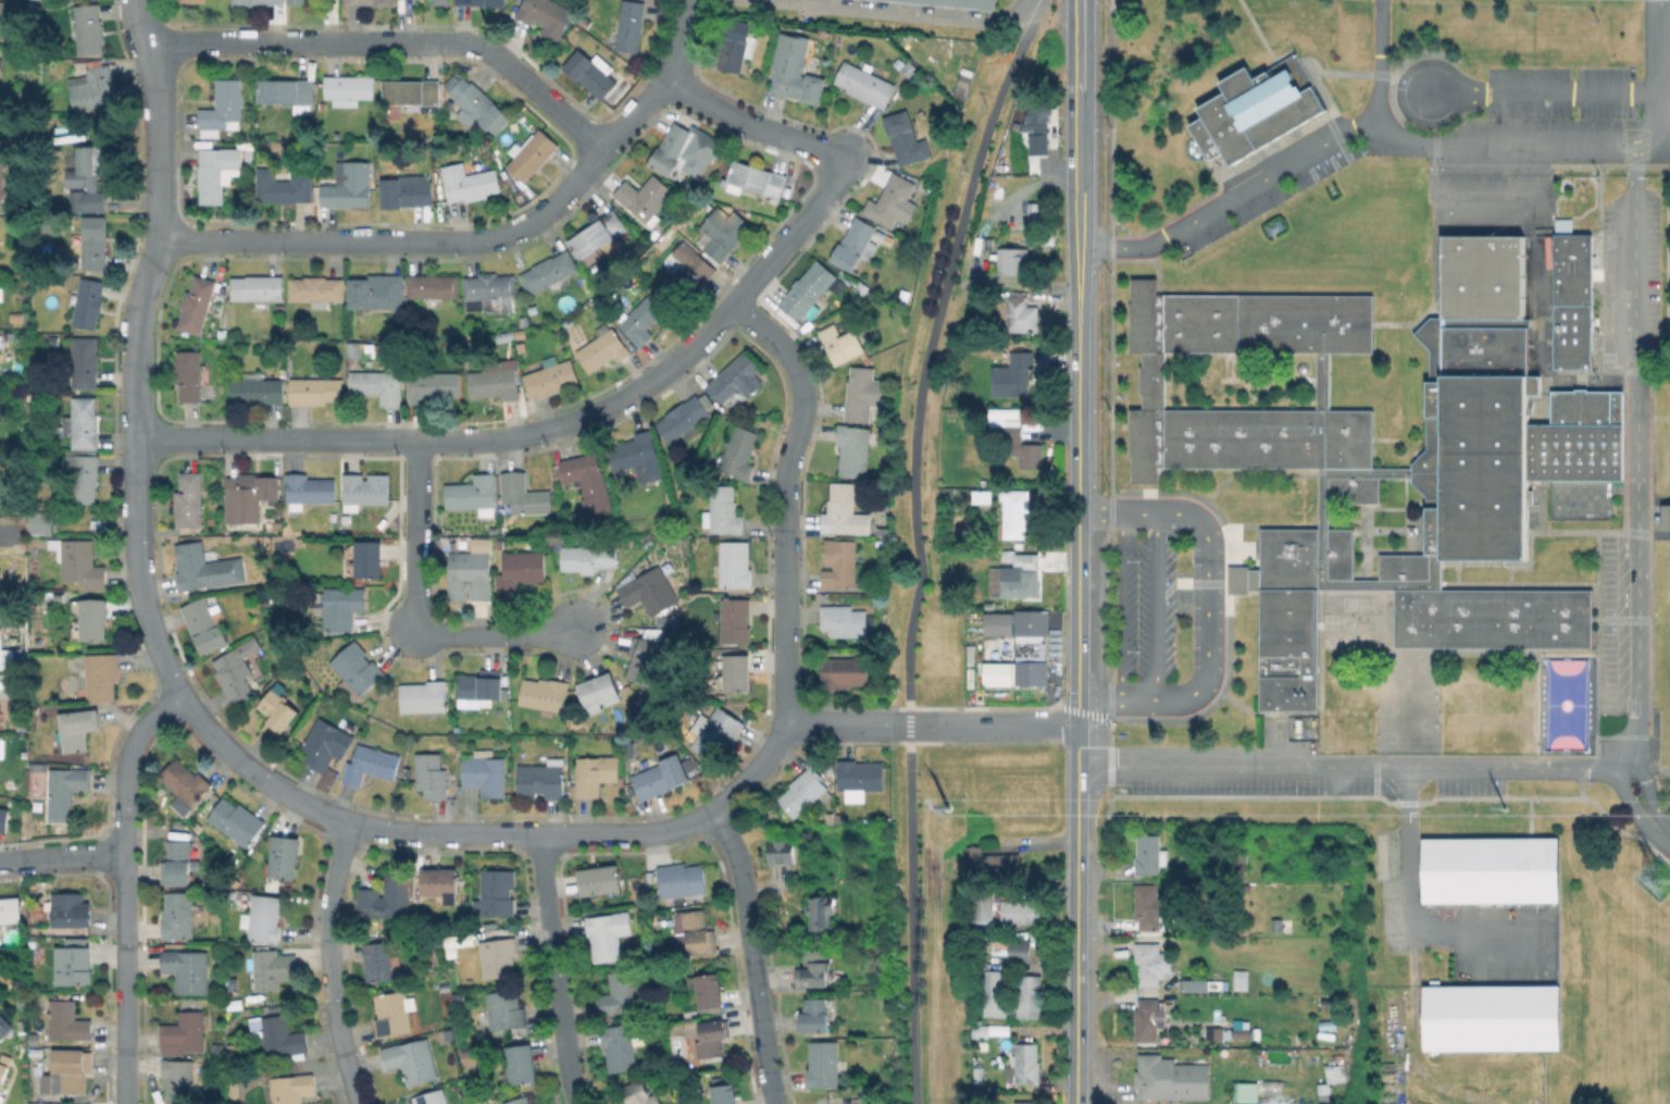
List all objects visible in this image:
building: (297, 0)
building: (192, 1)
building: (259, 2)
building: (369, 2)
building: (443, 2)
building: (482, 2)
building: (959, 3)
building: (546, 13)
road: (876, 13)
building: (2, 18)
building: (631, 25)
building: (89, 28)
road: (398, 44)
building: (736, 45)
building: (911, 67)
building: (794, 69)
building: (590, 74)
building: (962, 84)
building: (864, 85)
building: (350, 87)
road: (1549, 90)
building: (411, 91)
building: (97, 92)
building: (288, 92)
building: (476, 104)
building: (223, 108)
building: (1254, 109)
building: (1035, 116)
road: (749, 125)
building: (906, 139)
road: (1516, 142)
building: (686, 150)
building: (532, 154)
road: (1280, 169)
building: (216, 173)
building: (88, 174)
building: (758, 178)
building: (472, 182)
building: (286, 184)
building: (349, 185)
building: (2, 187)
building: (407, 191)
building: (646, 198)
building: (890, 200)
building: (723, 232)
building: (598, 235)
road: (486, 239)
building: (95, 243)
building: (853, 243)
building: (1013, 261)
building: (549, 272)
building: (687, 272)
building: (907, 280)
building: (258, 287)
building: (434, 288)
building: (806, 288)
building: (862, 288)
building: (317, 290)
building: (490, 290)
building: (378, 291)
building: (1, 294)
building: (1570, 296)
building: (89, 302)
building: (197, 305)
building: (1021, 314)
building: (643, 318)
building: (16, 320)
building: (525, 325)
building: (844, 344)
road: (137, 345)
road: (932, 345)
building: (603, 348)
building: (354, 349)
building: (85, 361)
building: (189, 374)
building: (1018, 375)
building: (551, 377)
building: (736, 377)
road: (1632, 379)
building: (378, 384)
building: (432, 384)
building: (495, 384)
building: (258, 388)
building: (315, 390)
building: (863, 394)
building: (687, 418)
building: (85, 423)
road: (548, 429)
building: (1022, 446)
road: (1079, 446)
building: (853, 449)
building: (739, 452)
building: (638, 455)
building: (1468, 471)
building: (83, 473)
building: (590, 485)
building: (308, 489)
building: (365, 489)
building: (474, 495)
building: (524, 495)
building: (982, 495)
building: (189, 499)
road: (784, 499)
building: (248, 500)
building: (723, 510)
building: (844, 510)
building: (1014, 511)
building: (1665, 517)
building: (38, 522)
building: (99, 523)
road: (10, 533)
road: (415, 535)
building: (300, 544)
building: (630, 546)
building: (589, 557)
building: (369, 558)
building: (78, 561)
building: (839, 563)
building: (734, 565)
building: (204, 568)
building: (472, 571)
building: (521, 571)
building: (267, 579)
building: (1019, 581)
building: (649, 591)
road: (1120, 603)
road: (1155, 603)
road: (1206, 604)
building: (339, 606)
building: (94, 619)
building: (734, 619)
building: (845, 620)
building: (661, 621)
building: (205, 623)
building: (1002, 625)
building: (1035, 625)
road: (495, 635)
building: (5, 654)
building: (643, 659)
building: (238, 669)
building: (357, 669)
building: (736, 671)
building: (844, 672)
building: (1000, 674)
building: (1035, 674)
building: (101, 675)
building: (479, 686)
building: (598, 690)
building: (545, 693)
building: (423, 696)
road: (994, 707)
building: (277, 710)
road: (910, 724)
building: (76, 729)
building: (716, 733)
building: (326, 744)
building: (0, 746)
building: (371, 764)
road: (1395, 766)
road: (1666, 770)
building: (485, 772)
building: (596, 773)
building: (431, 774)
building: (859, 774)
building: (660, 777)
building: (187, 781)
building: (540, 781)
building: (66, 790)
building: (803, 791)
road: (1338, 795)
power tower: (1481, 804)
power tower: (945, 805)
building: (830, 817)
building: (844, 818)
building: (3, 819)
building: (237, 821)
road: (628, 834)
building: (1149, 854)
road: (62, 856)
building: (285, 856)
building: (993, 860)
building: (177, 861)
building: (1487, 869)
building: (600, 879)
building: (681, 879)
building: (440, 882)
power tower: (1662, 882)
road: (125, 885)
building: (496, 893)
building: (387, 898)
road: (1406, 898)
building: (1147, 906)
building: (71, 908)
building: (10, 909)
building: (983, 910)
building: (818, 911)
building: (1022, 914)
building: (178, 915)
building: (263, 918)
road: (912, 923)
building: (1278, 925)
building: (697, 931)
building: (608, 934)
building: (459, 941)
road: (751, 953)
building: (498, 957)
building: (378, 960)
building: (74, 963)
building: (1147, 963)
road: (327, 965)
building: (273, 968)
building: (188, 969)
building: (813, 969)
road: (554, 970)
building: (1237, 979)
building: (1192, 984)
building: (709, 989)
building: (622, 993)
building: (993, 993)
building: (1026, 995)
road: (1076, 998)
building: (23, 1005)
building: (506, 1009)
building: (691, 1012)
building: (392, 1013)
building: (814, 1015)
building: (1488, 1016)
building: (689, 1020)
building: (1147, 1020)
building: (67, 1021)
building: (23, 1024)
building: (4, 1026)
building: (184, 1031)
building: (982, 1032)
building: (1263, 1032)
building: (1212, 1033)
building: (282, 1035)
building: (712, 1037)
building: (35, 1039)
building: (619, 1046)
building: (220, 1049)
building: (235, 1049)
building: (37, 1051)
building: (468, 1051)
building: (412, 1059)
building: (1026, 1063)
building: (520, 1064)
building: (823, 1064)
building: (3, 1066)
building: (1341, 1070)
building: (70, 1071)
building: (1170, 1078)
building: (178, 1081)
building: (291, 1088)
building: (1246, 1092)
building: (233, 1093)
building: (638, 1093)
building: (724, 1093)
building: (431, 1097)
building: (518, 1100)
building: (1026, 1102)
building: (85, 1103)

